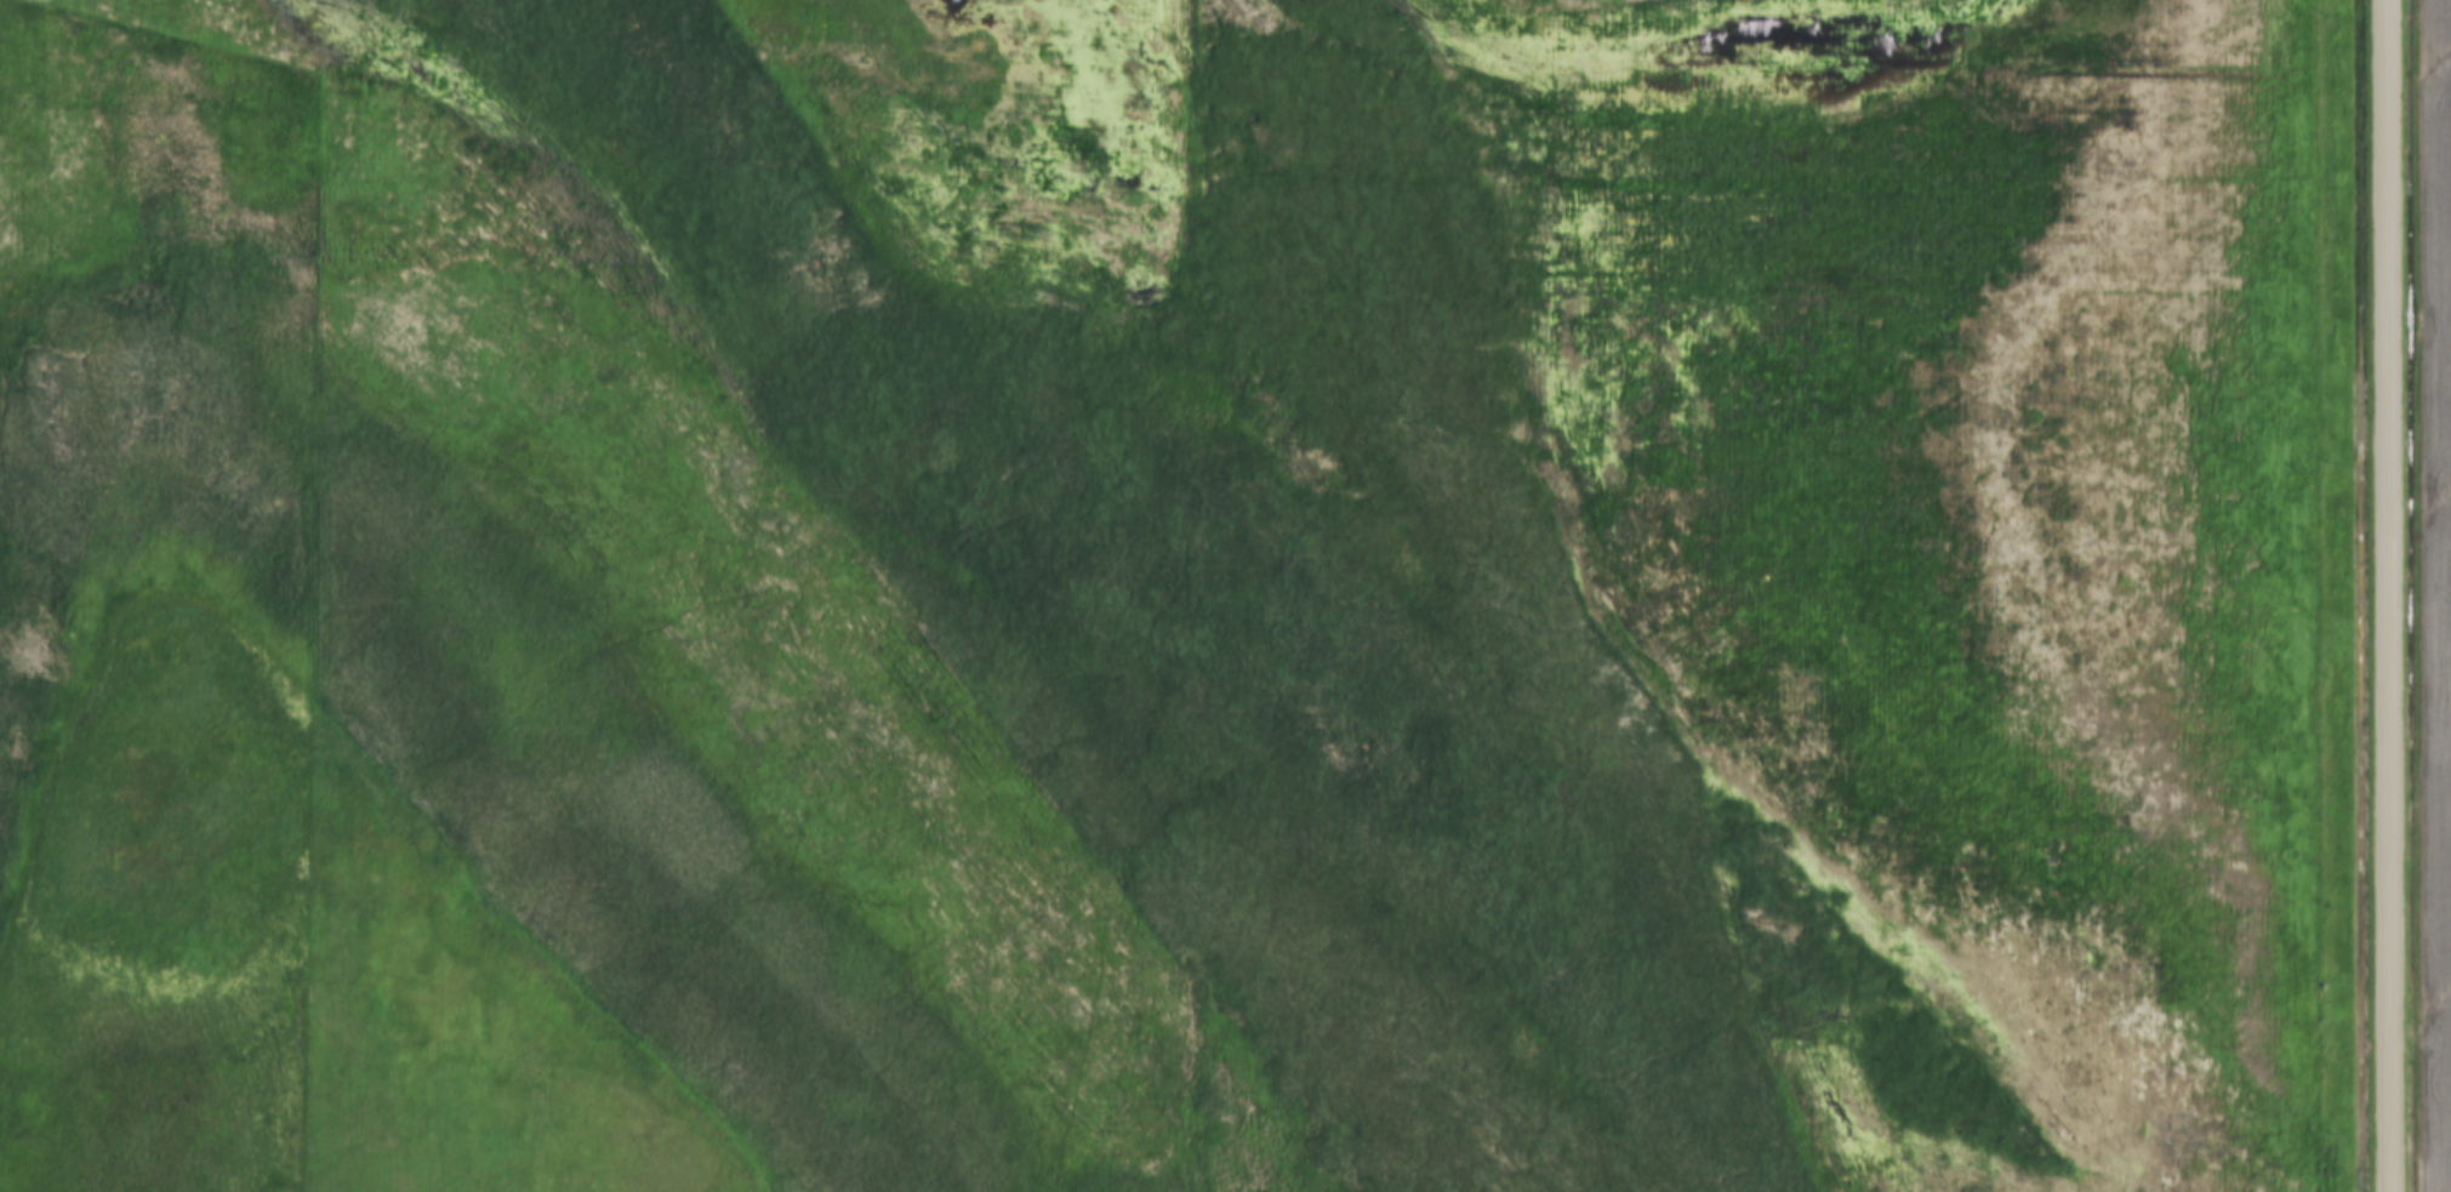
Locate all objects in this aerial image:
road: (2392, 595)

